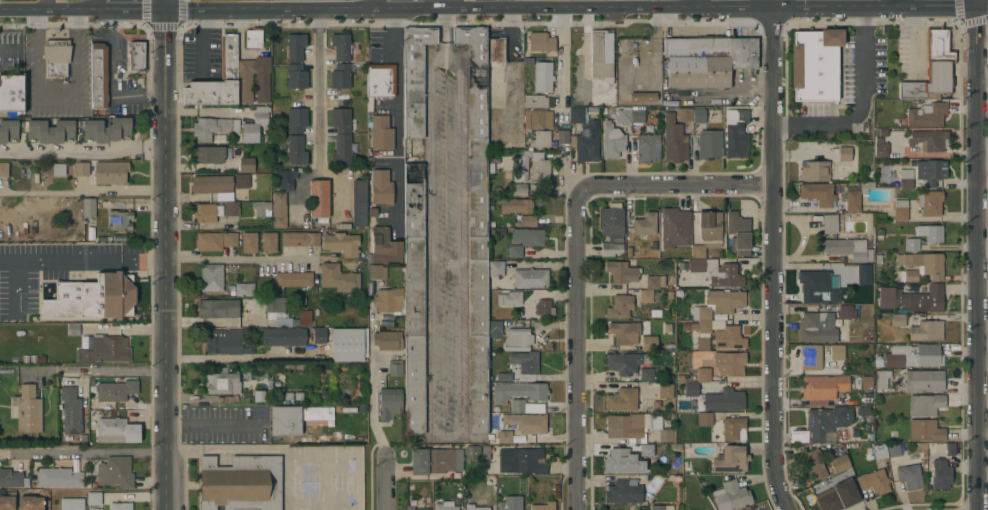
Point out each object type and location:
road: (977, 3)
road: (40, 7)
road: (164, 7)
road: (944, 7)
traffic signals: (977, 7)
road: (982, 7)
road: (842, 8)
road: (739, 9)
road: (574, 11)
road: (351, 12)
road: (413, 12)
road: (237, 13)
road: (282, 13)
road: (306, 13)
road: (56, 14)
road: (90, 14)
road: (108, 14)
road: (137, 14)
traffic signals: (164, 14)
road: (183, 14)
road: (18, 15)
road: (444, 31)
building: (254, 38)
building: (540, 42)
road: (977, 44)
building: (295, 47)
building: (340, 47)
building: (496, 50)
building: (601, 55)
building: (56, 56)
building: (136, 56)
building: (707, 60)
road: (444, 62)
building: (528, 62)
road: (202, 64)
building: (815, 64)
road: (565, 65)
building: (228, 66)
building: (933, 67)
building: (98, 76)
building: (296, 76)
building: (340, 77)
building: (543, 77)
building: (415, 79)
road: (110, 80)
road: (982, 81)
building: (379, 83)
building: (245, 88)
building: (11, 92)
road: (318, 92)
building: (643, 97)
road: (58, 99)
road: (858, 101)
building: (536, 111)
road: (398, 115)
building: (684, 115)
building: (698, 115)
building: (927, 116)
building: (630, 117)
building: (296, 120)
building: (254, 125)
building: (213, 128)
building: (8, 131)
building: (107, 132)
building: (381, 133)
building: (736, 133)
building: (585, 135)
building: (341, 136)
building: (562, 137)
building: (540, 139)
building: (674, 140)
building: (929, 140)
building: (612, 142)
building: (709, 144)
building: (881, 145)
building: (647, 148)
road: (82, 150)
building: (296, 151)
building: (846, 154)
road: (982, 154)
building: (207, 155)
building: (246, 165)
building: (493, 166)
building: (540, 166)
building: (81, 169)
building: (4, 170)
building: (58, 170)
building: (815, 171)
building: (930, 171)
building: (110, 172)
building: (285, 178)
building: (905, 179)
building: (246, 181)
building: (381, 187)
road: (677, 187)
building: (519, 190)
road: (83, 191)
building: (217, 191)
building: (818, 194)
building: (855, 195)
building: (319, 198)
building: (930, 202)
building: (359, 203)
building: (516, 206)
building: (260, 207)
building: (88, 208)
building: (278, 210)
building: (900, 210)
building: (207, 212)
building: (611, 219)
building: (119, 220)
building: (526, 221)
building: (645, 224)
building: (829, 224)
building: (476, 225)
building: (674, 228)
building: (738, 232)
building: (707, 233)
building: (930, 233)
building: (300, 239)
building: (229, 240)
building: (525, 240)
building: (208, 242)
building: (249, 243)
building: (268, 243)
building: (341, 244)
building: (911, 244)
building: (612, 246)
building: (384, 247)
road: (431, 249)
building: (847, 249)
road: (459, 250)
road: (983, 253)
road: (773, 255)
road: (157, 260)
road: (165, 261)
building: (920, 266)
building: (495, 268)
building: (376, 271)
building: (621, 272)
building: (714, 272)
building: (864, 274)
building: (211, 277)
building: (338, 278)
building: (530, 278)
building: (293, 279)
building: (816, 286)
building: (650, 288)
road: (983, 288)
building: (244, 290)
building: (669, 295)
road: (978, 296)
building: (413, 297)
building: (92, 299)
building: (508, 299)
building: (913, 299)
building: (389, 301)
building: (725, 301)
building: (543, 307)
building: (619, 307)
building: (220, 311)
building: (845, 312)
building: (655, 314)
building: (702, 318)
building: (898, 320)
building: (284, 325)
building: (686, 327)
building: (817, 327)
building: (694, 328)
road: (983, 328)
building: (495, 329)
building: (73, 330)
building: (925, 330)
building: (624, 333)
building: (667, 333)
building: (319, 335)
building: (728, 338)
building: (388, 340)
building: (226, 342)
building: (649, 343)
building: (702, 343)
building: (348, 345)
building: (102, 349)
building: (521, 350)
road: (578, 351)
building: (836, 352)
road: (229, 357)
building: (810, 357)
building: (914, 357)
building: (25, 360)
building: (32, 360)
building: (40, 361)
building: (623, 363)
building: (729, 364)
road: (983, 366)
building: (395, 368)
road: (117, 369)
building: (647, 375)
building: (703, 375)
building: (503, 377)
building: (680, 378)
building: (881, 379)
building: (923, 381)
building: (222, 382)
road: (371, 383)
building: (866, 383)
building: (822, 388)
building: (691, 389)
building: (116, 390)
building: (665, 391)
building: (518, 392)
building: (259, 396)
building: (622, 400)
building: (724, 400)
building: (847, 400)
road: (983, 400)
building: (389, 403)
building: (925, 405)
building: (517, 406)
building: (27, 409)
building: (70, 411)
building: (704, 419)
building: (285, 421)
building: (827, 422)
building: (526, 423)
building: (628, 427)
building: (734, 429)
building: (116, 431)
building: (925, 431)
road: (445, 435)
building: (666, 435)
building: (504, 437)
road: (983, 437)
building: (646, 450)
building: (896, 450)
building: (949, 450)
road: (82, 452)
building: (472, 453)
building: (485, 453)
building: (876, 454)
building: (730, 460)
building: (435, 461)
building: (526, 461)
building: (617, 461)
building: (813, 464)
building: (839, 464)
building: (115, 472)
building: (940, 474)
building: (909, 476)
road: (983, 476)
building: (10, 478)
building: (59, 478)
building: (873, 481)
building: (241, 483)
road: (384, 483)
building: (623, 493)
building: (838, 494)
building: (730, 496)
building: (94, 498)
building: (7, 503)
building: (30, 503)
building: (510, 503)
building: (72, 504)
building: (120, 506)
building: (444, 506)
building: (543, 506)
building: (475, 507)
building: (413, 508)
building: (661, 508)

